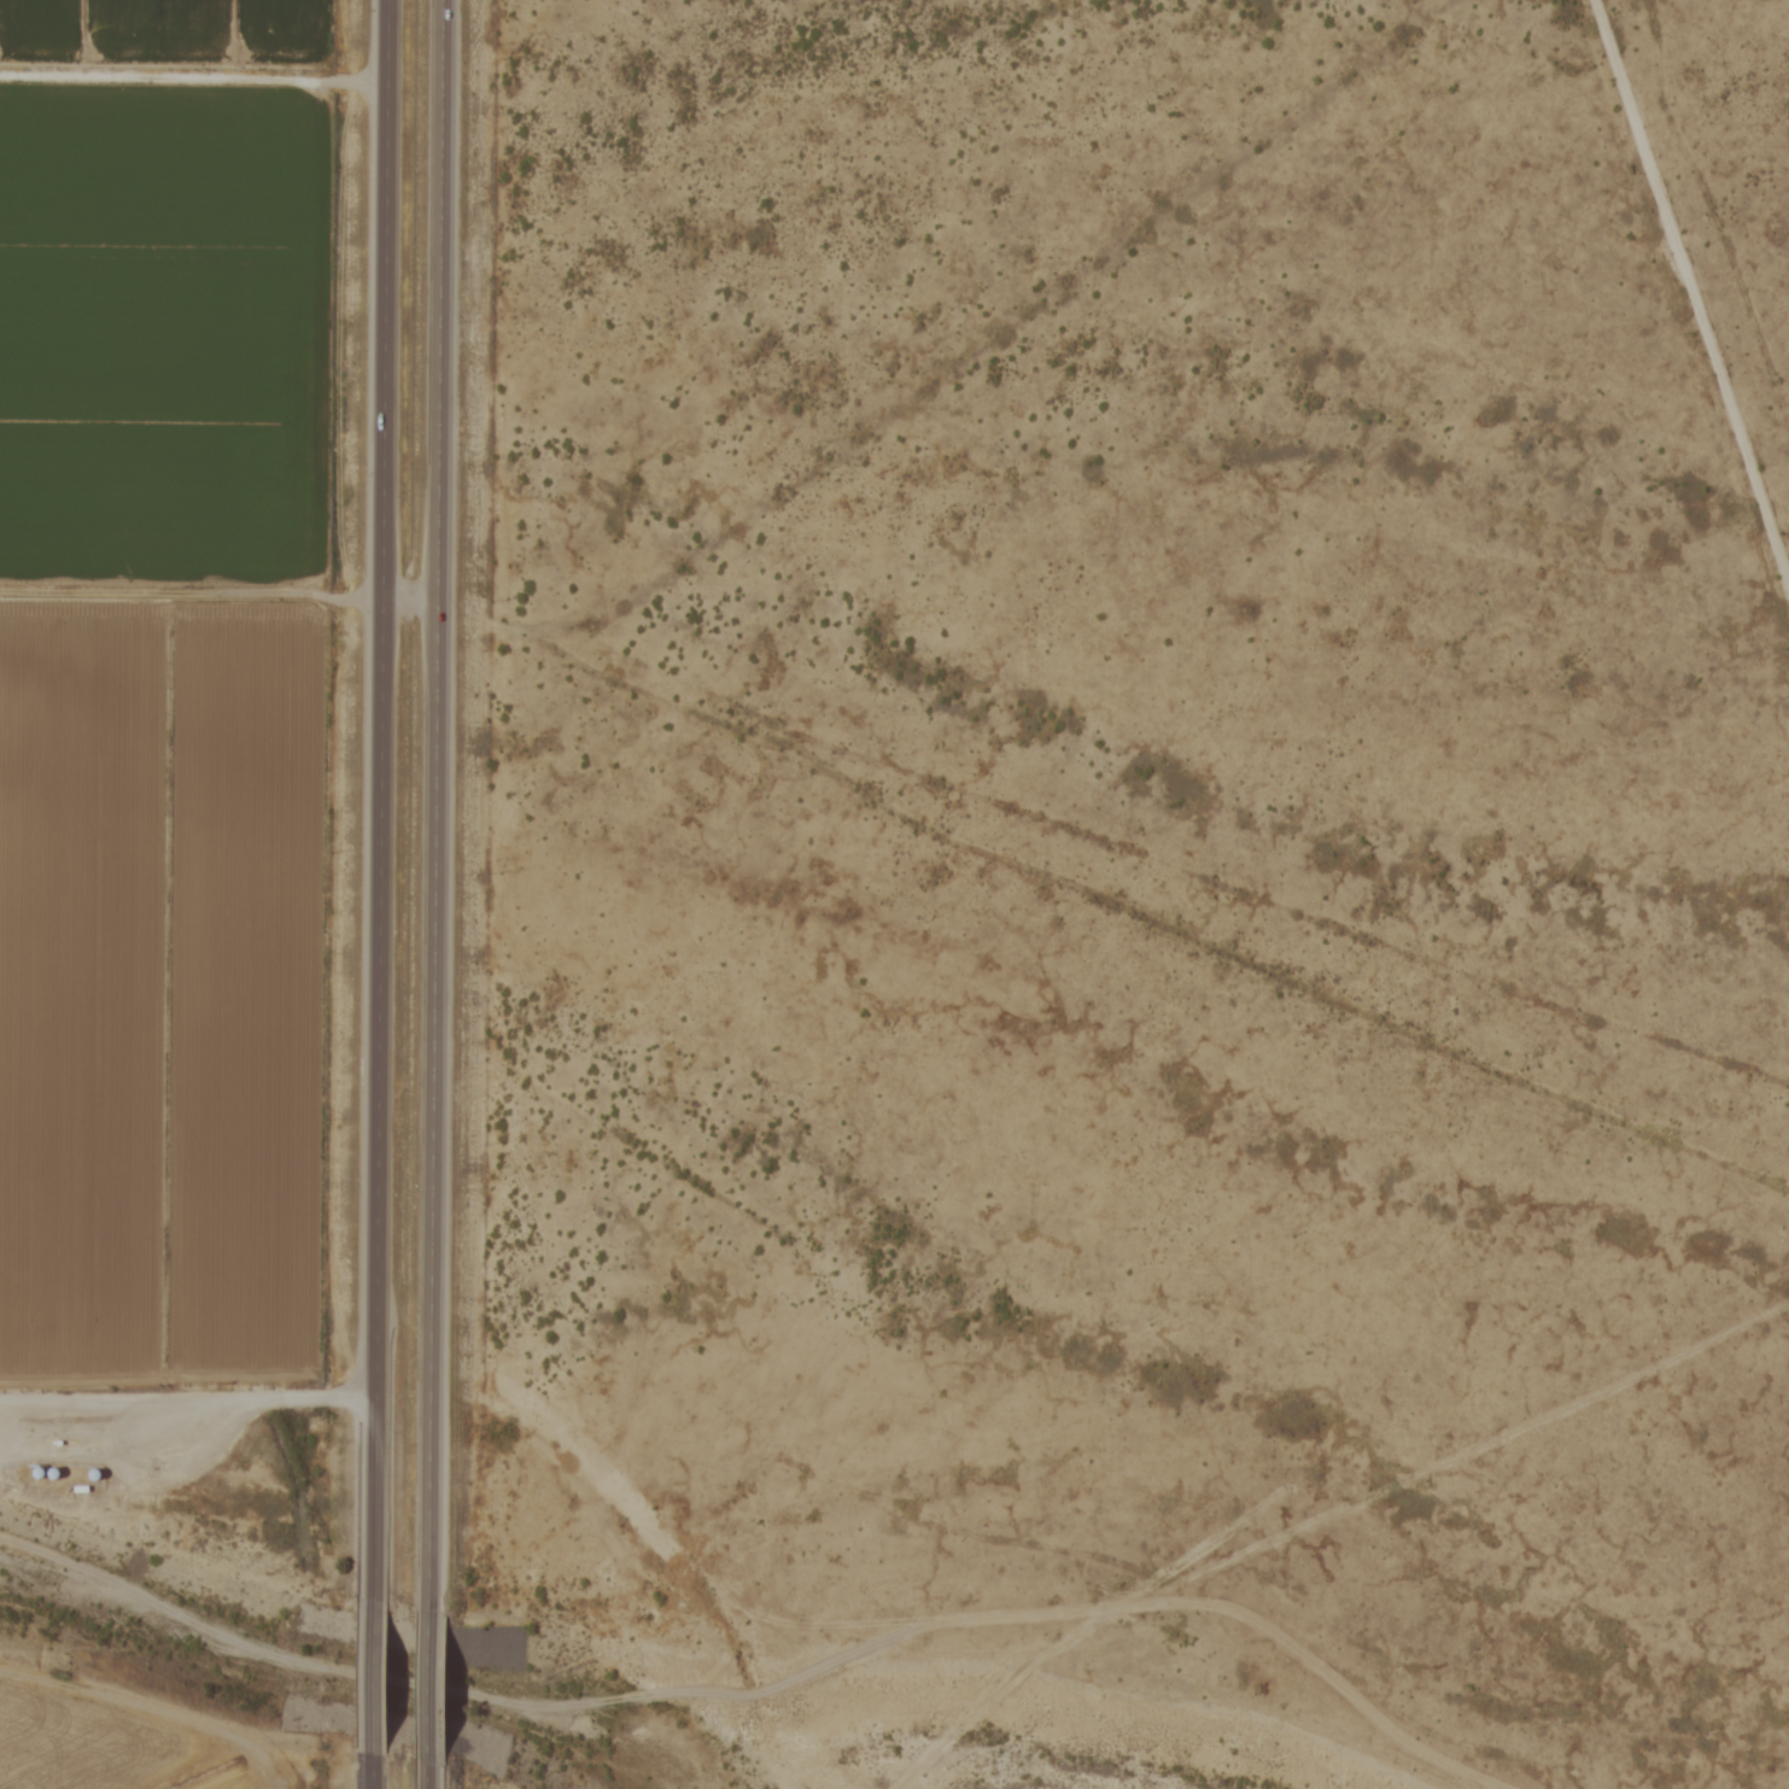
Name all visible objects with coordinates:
road: (455, 193)
road: (401, 195)
road: (1688, 290)
road: (423, 592)
road: (393, 994)
road: (448, 995)
road: (195, 1392)
road: (387, 1677)
road: (442, 1683)
road: (384, 1771)
road: (440, 1773)

